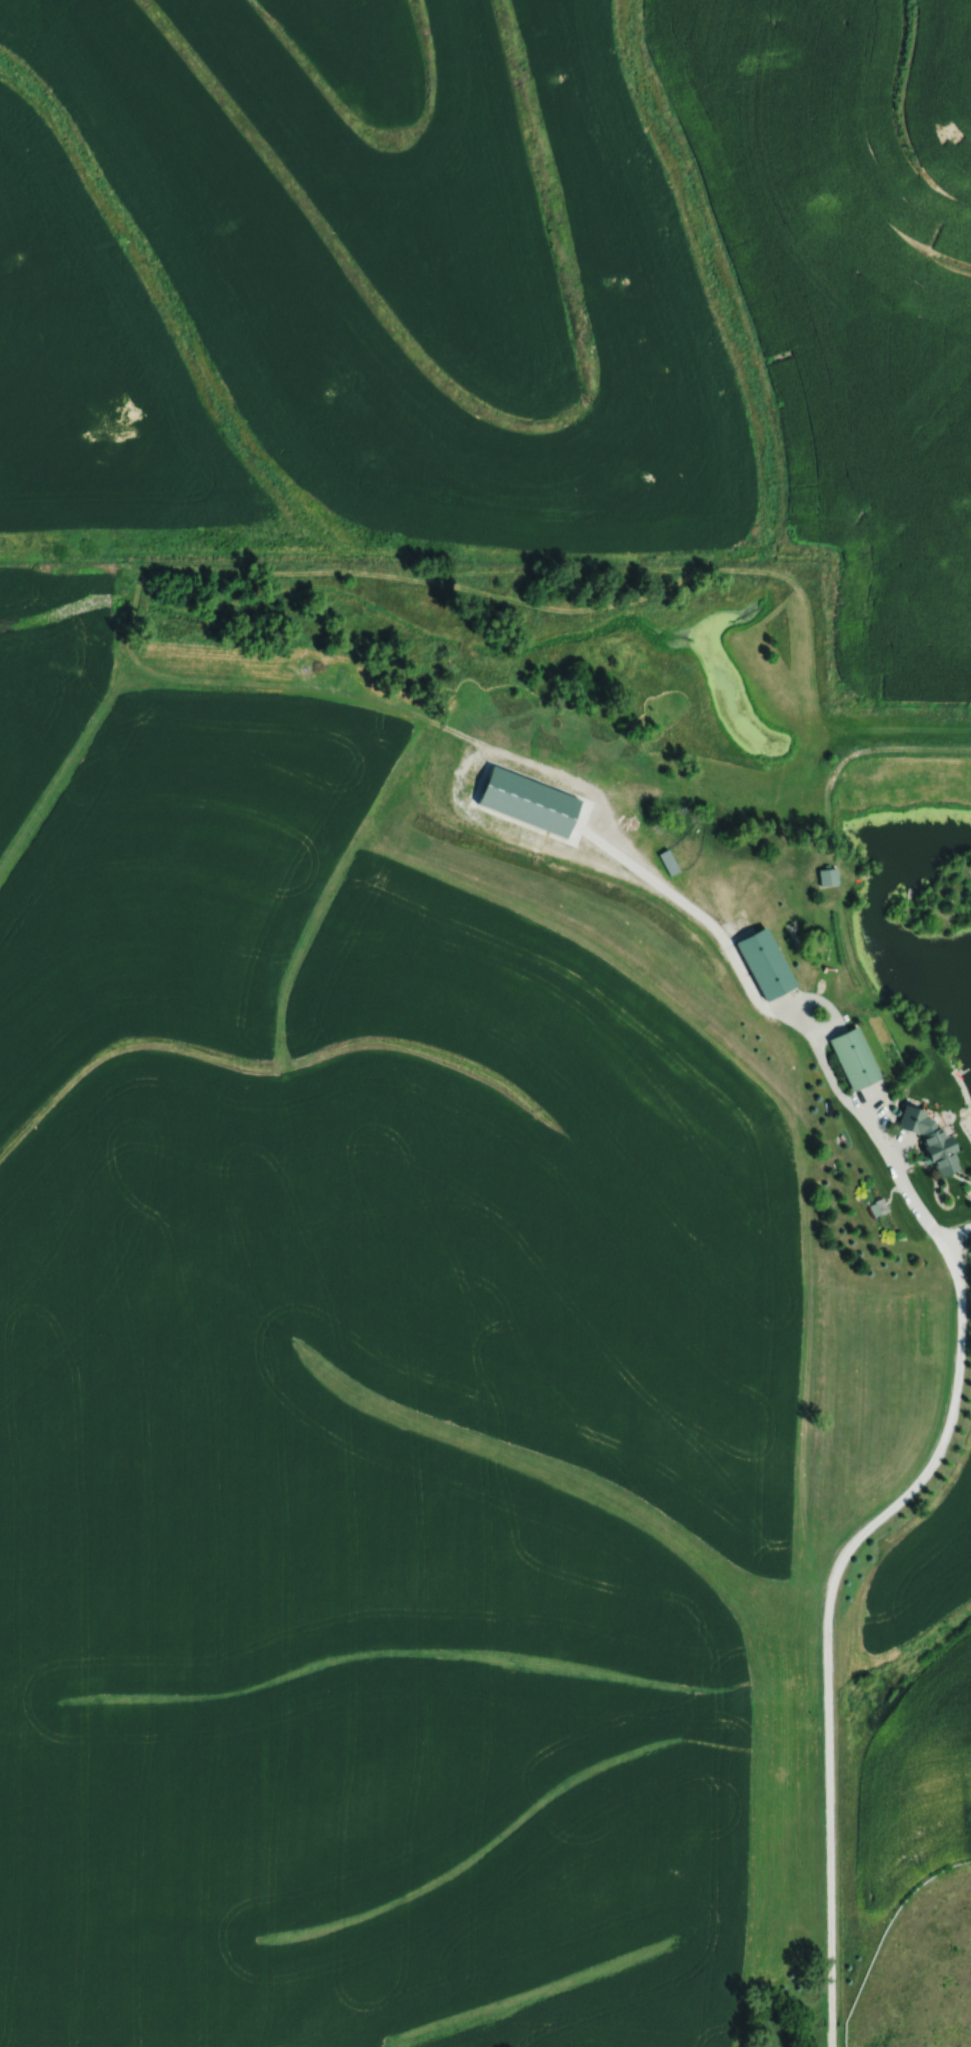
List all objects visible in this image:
building: (828, 878)
building: (854, 1057)
building: (930, 1136)
road: (956, 1396)

